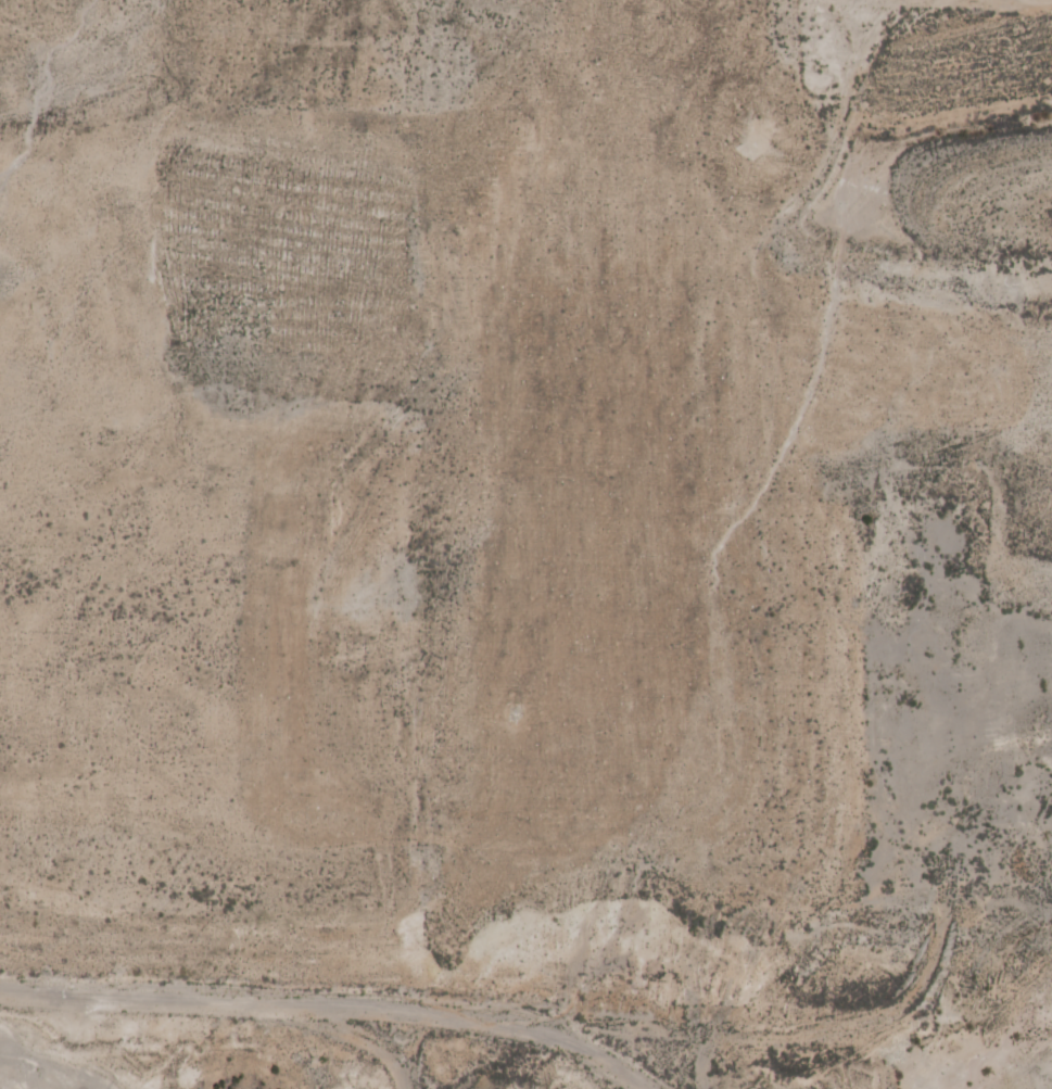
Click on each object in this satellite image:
road: (525, 1035)

